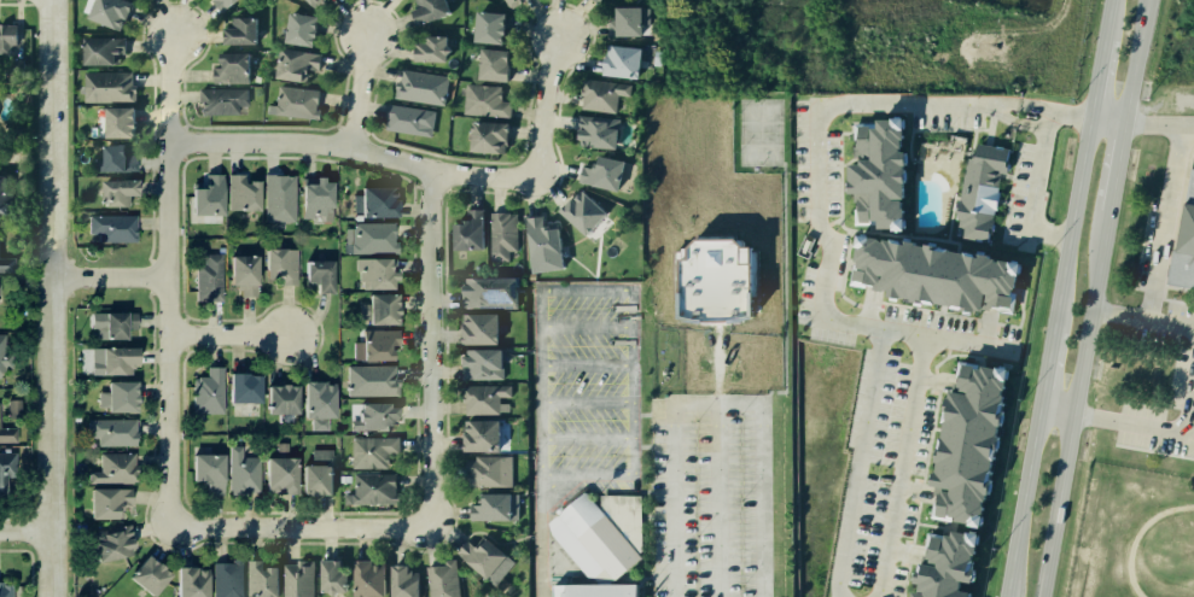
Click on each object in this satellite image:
building: (502, 0)
building: (595, 0)
building: (314, 2)
building: (512, 2)
building: (221, 5)
building: (423, 10)
building: (106, 11)
building: (619, 18)
road: (1105, 22)
building: (484, 25)
building: (237, 29)
building: (296, 30)
building: (12, 40)
building: (95, 46)
building: (427, 47)
building: (616, 59)
building: (293, 63)
building: (489, 63)
building: (229, 64)
building: (18, 68)
road: (1094, 80)
building: (105, 87)
building: (421, 87)
road: (359, 92)
building: (600, 95)
building: (482, 100)
building: (221, 103)
building: (292, 103)
road: (1024, 104)
road: (1001, 107)
road: (1039, 110)
road: (543, 111)
road: (1066, 116)
building: (407, 119)
road: (1105, 121)
building: (113, 123)
road: (1029, 123)
road: (1158, 123)
building: (595, 133)
building: (484, 136)
road: (351, 146)
building: (115, 156)
building: (601, 170)
building: (2, 193)
building: (113, 193)
road: (1030, 193)
building: (239, 194)
building: (276, 199)
building: (309, 200)
building: (372, 200)
building: (204, 203)
building: (579, 211)
building: (870, 216)
road: (1070, 220)
road: (1157, 221)
building: (111, 228)
building: (467, 230)
building: (1182, 234)
building: (501, 235)
building: (368, 239)
building: (540, 244)
building: (613, 245)
building: (7, 264)
building: (278, 265)
building: (373, 274)
building: (238, 275)
building: (318, 276)
road: (111, 279)
building: (208, 279)
road: (169, 280)
building: (716, 281)
building: (485, 292)
road: (53, 298)
road: (1093, 298)
road: (822, 299)
building: (379, 309)
road: (1142, 320)
building: (110, 324)
building: (474, 327)
road: (232, 339)
building: (375, 345)
road: (432, 347)
building: (4, 356)
building: (105, 361)
building: (479, 362)
road: (1046, 365)
building: (368, 381)
road: (633, 381)
building: (241, 388)
building: (206, 391)
road: (540, 391)
building: (115, 396)
building: (483, 398)
building: (279, 400)
road: (715, 402)
building: (318, 403)
building: (13, 409)
building: (371, 419)
road: (1126, 423)
building: (109, 431)
building: (476, 435)
building: (7, 438)
building: (956, 440)
building: (318, 452)
building: (373, 452)
building: (110, 469)
building: (485, 470)
building: (6, 472)
building: (239, 472)
building: (205, 473)
building: (275, 475)
building: (313, 479)
building: (1189, 482)
building: (369, 488)
parking lot: (709, 497)
building: (100, 503)
road: (1021, 503)
building: (494, 507)
road: (13, 521)
road: (304, 523)
road: (27, 528)
building: (600, 533)
road: (540, 542)
building: (104, 544)
building: (487, 558)
road: (31, 562)
building: (936, 564)
building: (145, 574)
building: (362, 576)
building: (260, 579)
building: (330, 579)
building: (396, 579)
building: (441, 579)
building: (223, 580)
building: (298, 580)
building: (186, 583)
building: (5, 587)
building: (595, 590)

